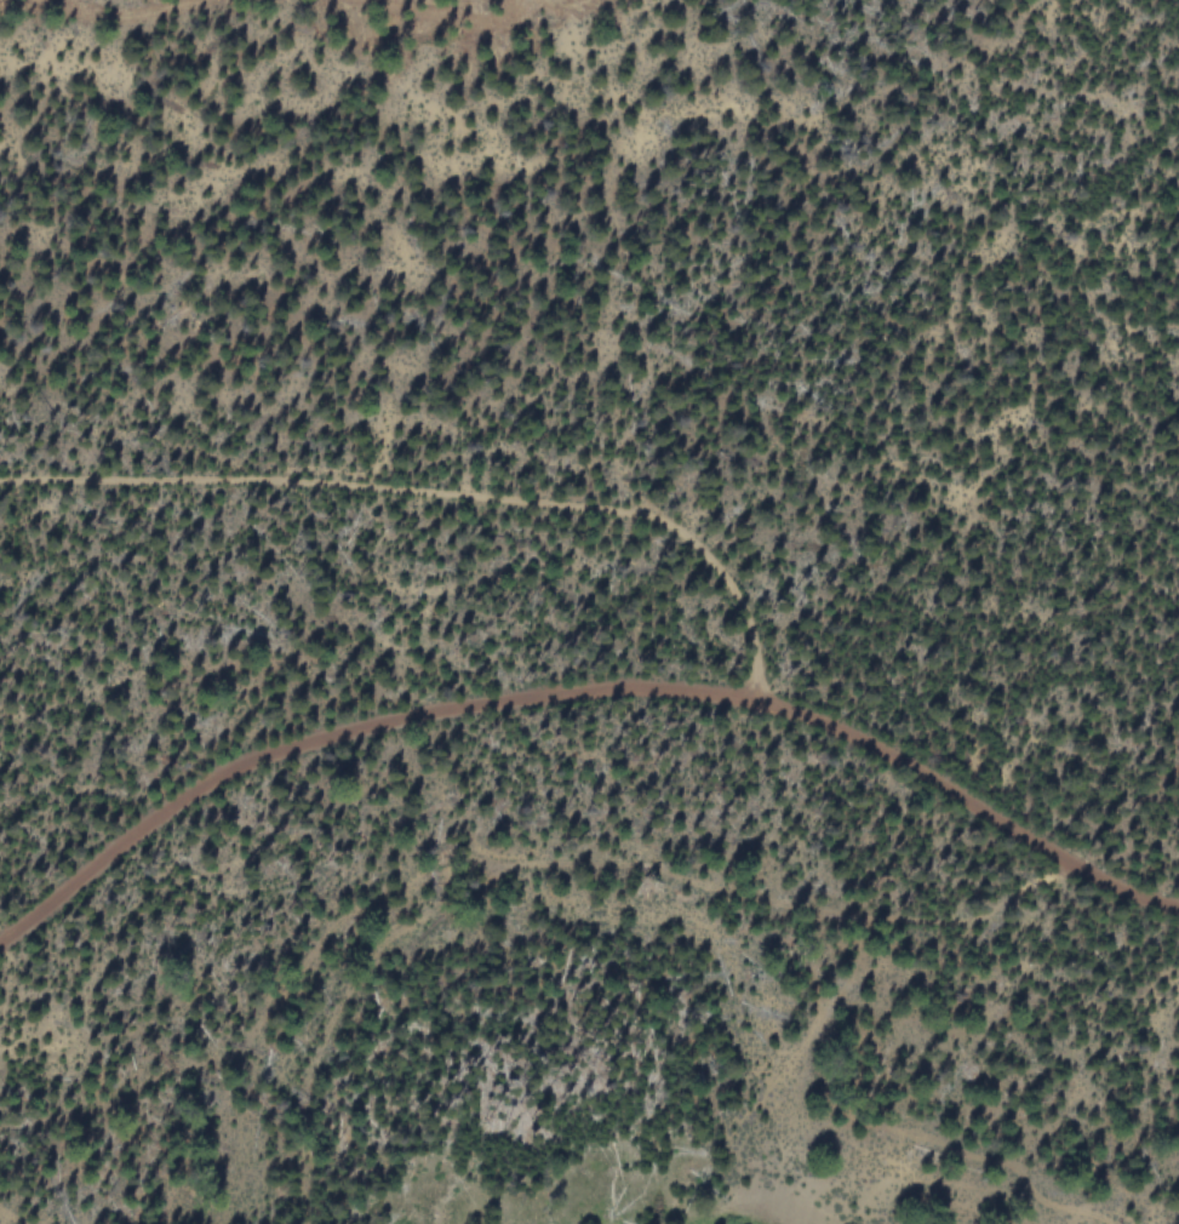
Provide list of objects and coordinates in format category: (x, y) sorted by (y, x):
road: (441, 490)
road: (582, 686)

